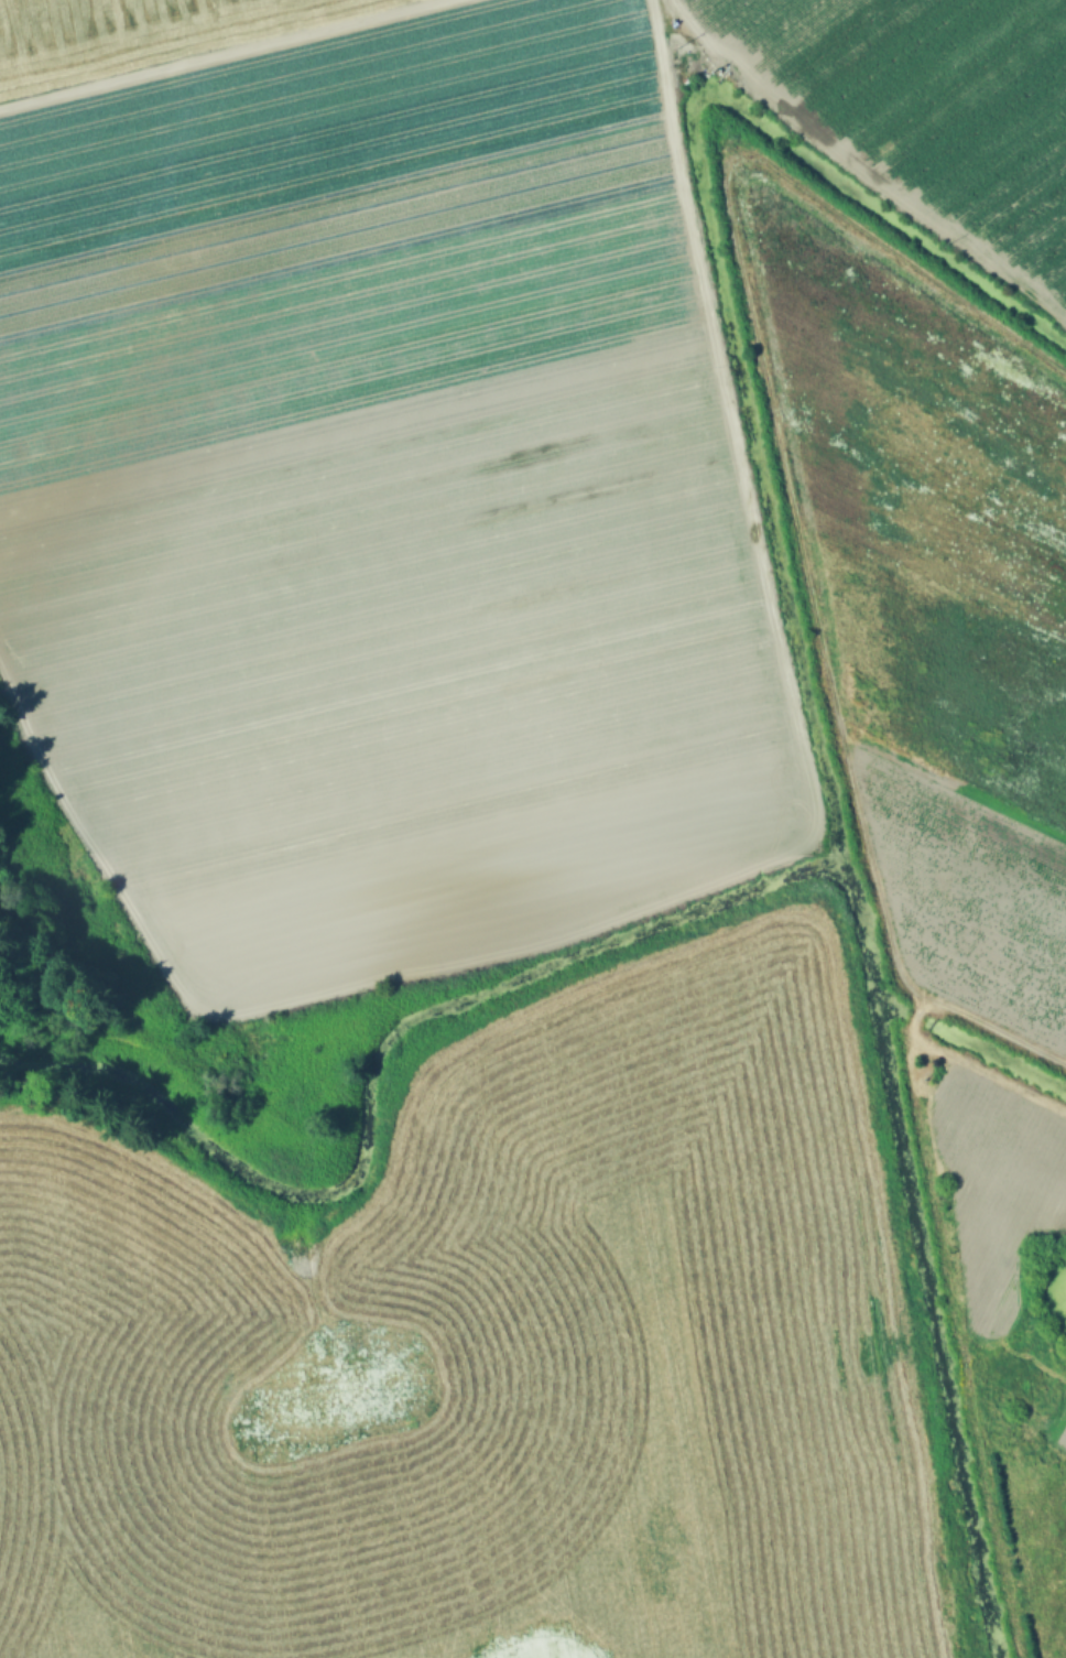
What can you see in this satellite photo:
road: (731, 420)
crop: (925, 445)
crop: (365, 480)
crop: (498, 1355)

